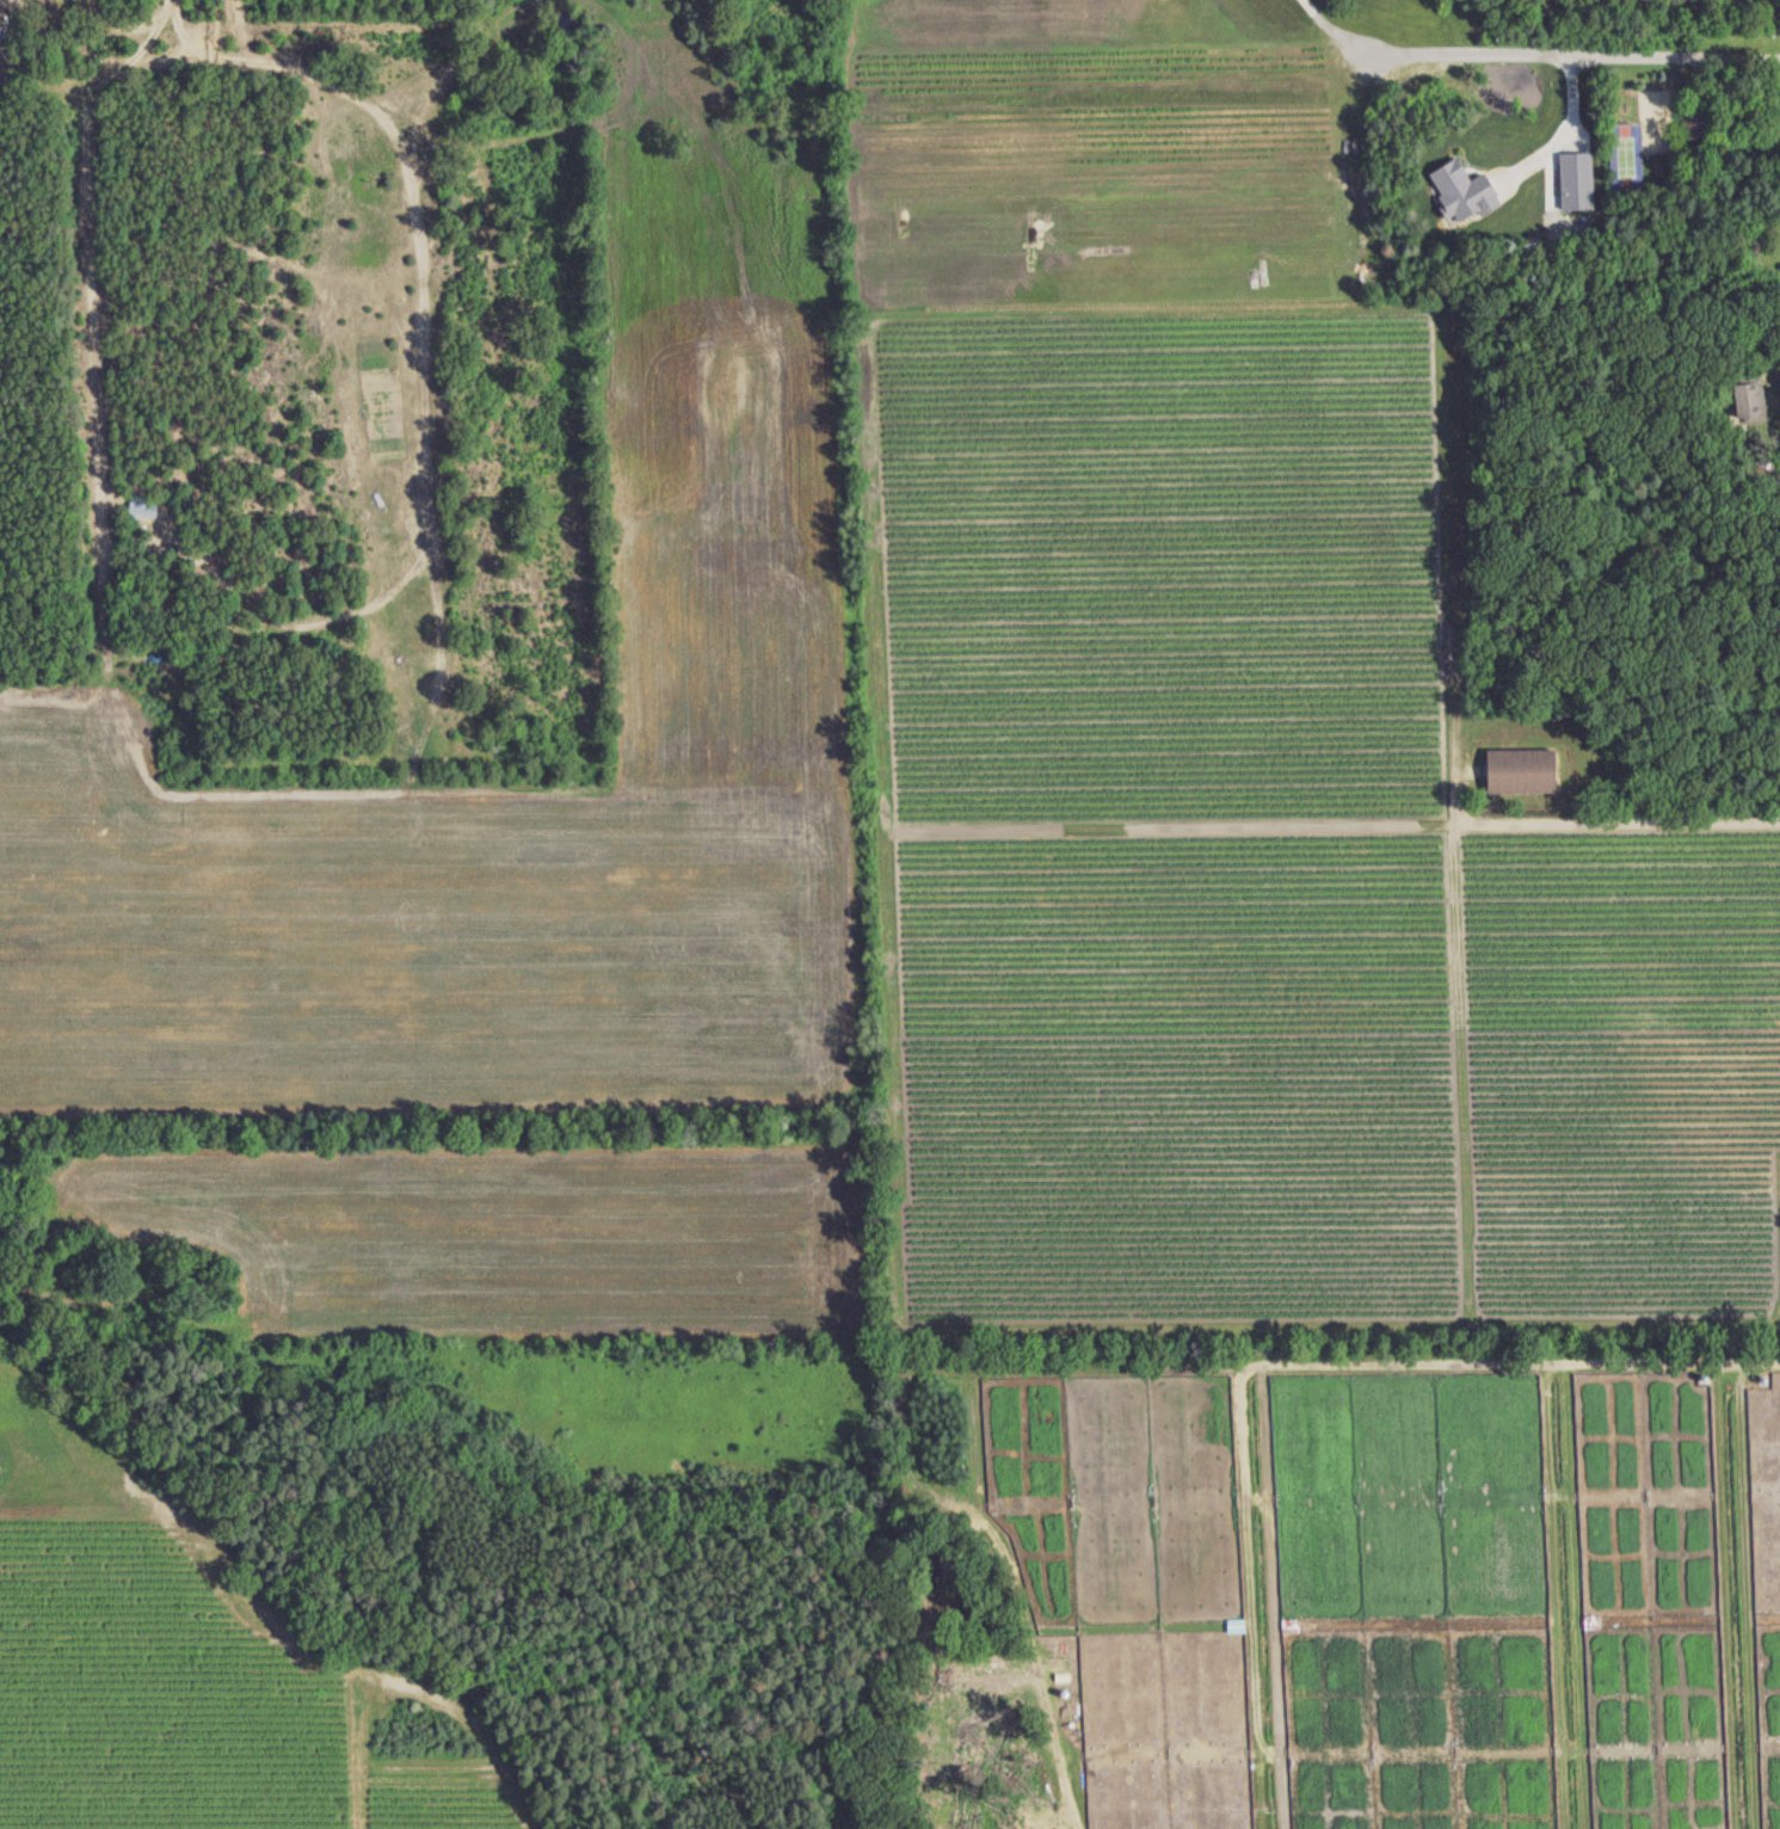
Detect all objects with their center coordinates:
road: (172, 2)
road: (1525, 53)
road: (167, 66)
building: (1576, 181)
building: (1461, 191)
building: (1748, 400)
building: (141, 507)
road: (345, 621)
building: (1517, 770)

